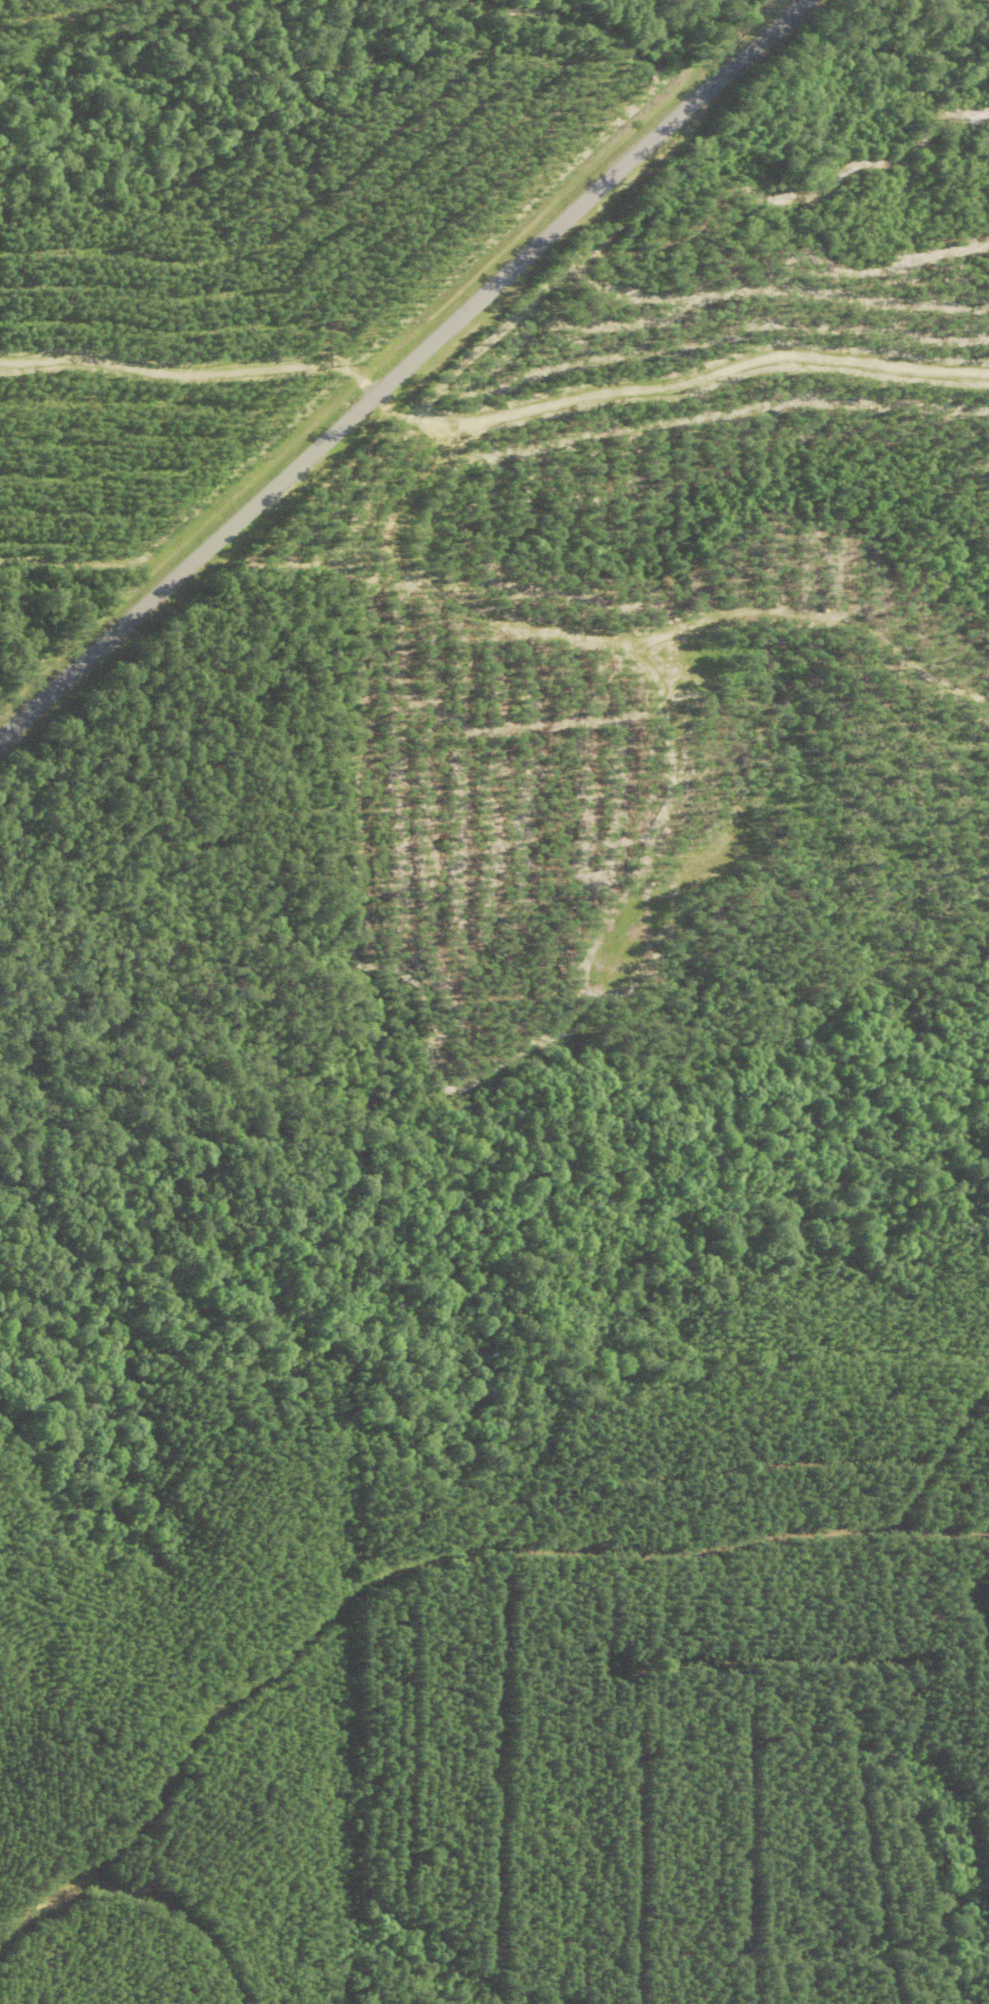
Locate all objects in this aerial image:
road: (404, 370)

